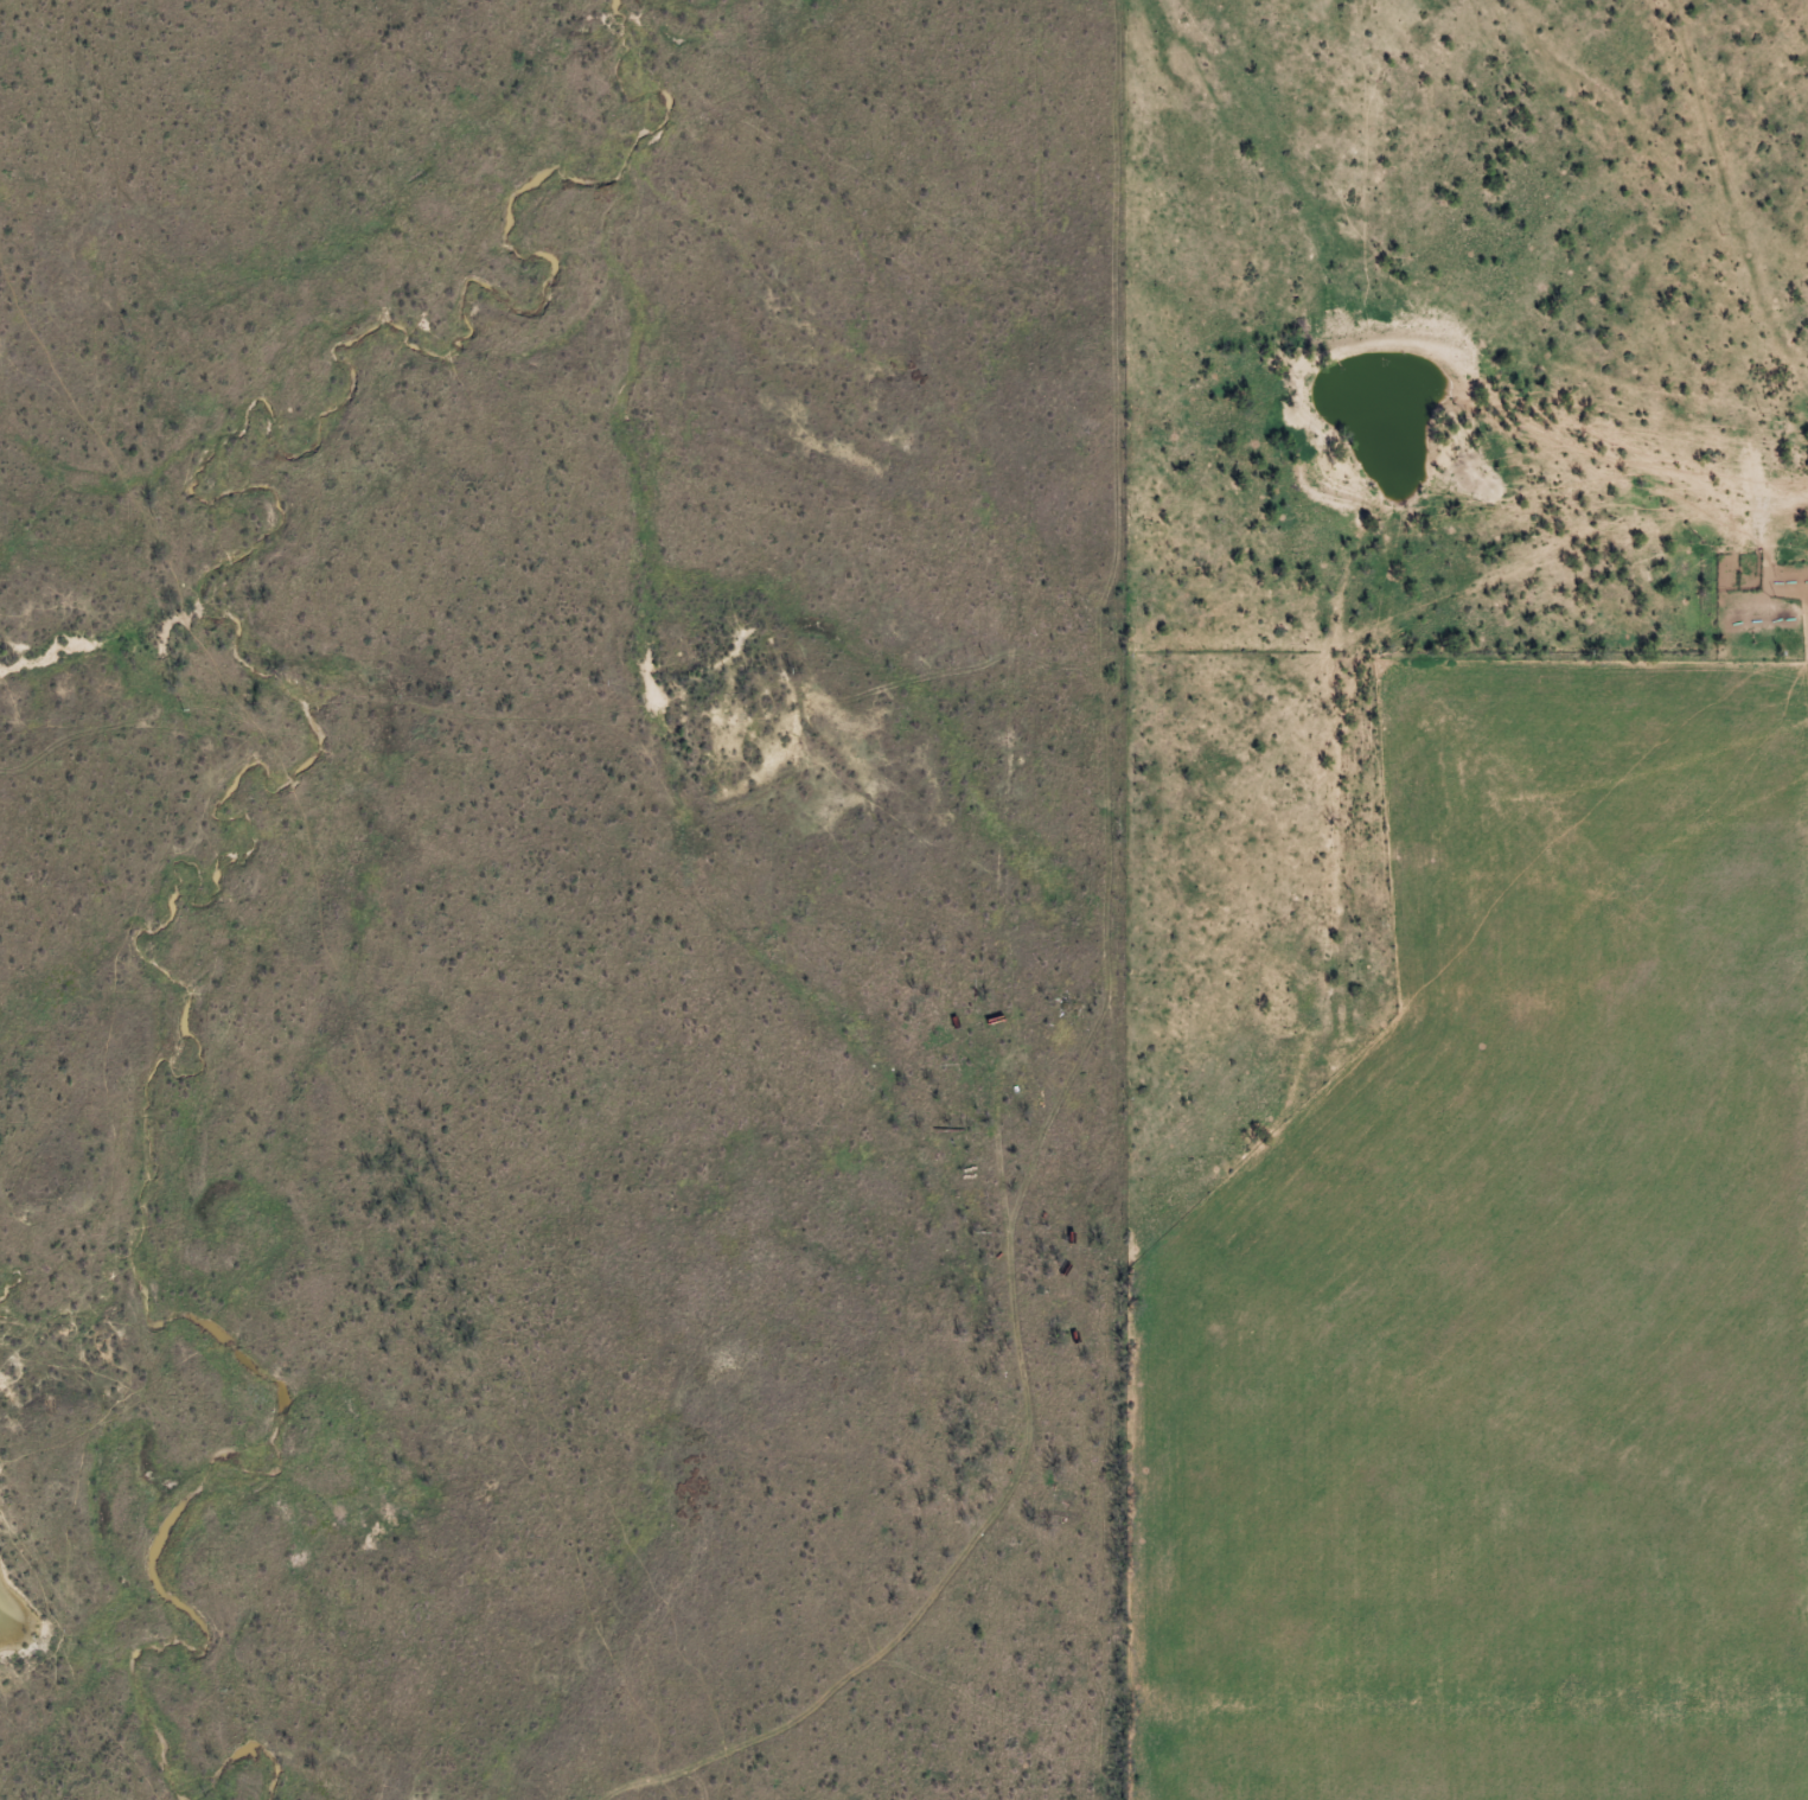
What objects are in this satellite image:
road: (318, 719)

